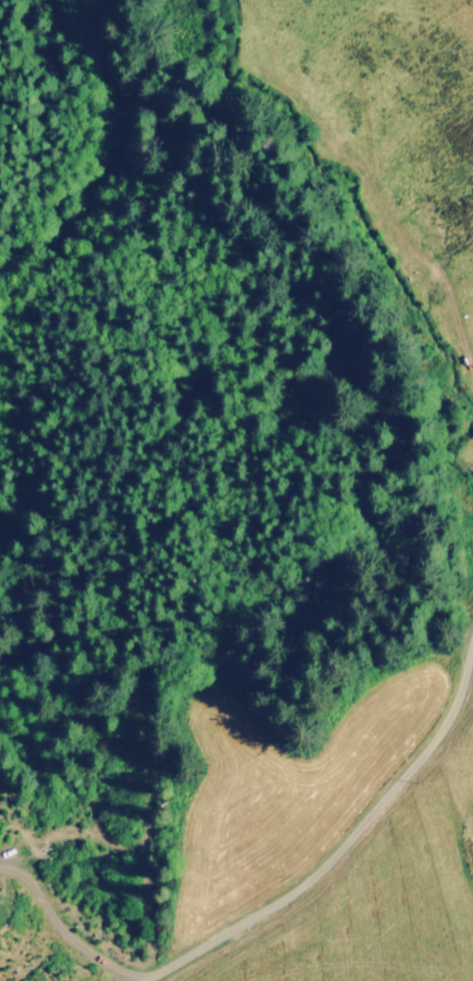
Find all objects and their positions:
road: (331, 854)

